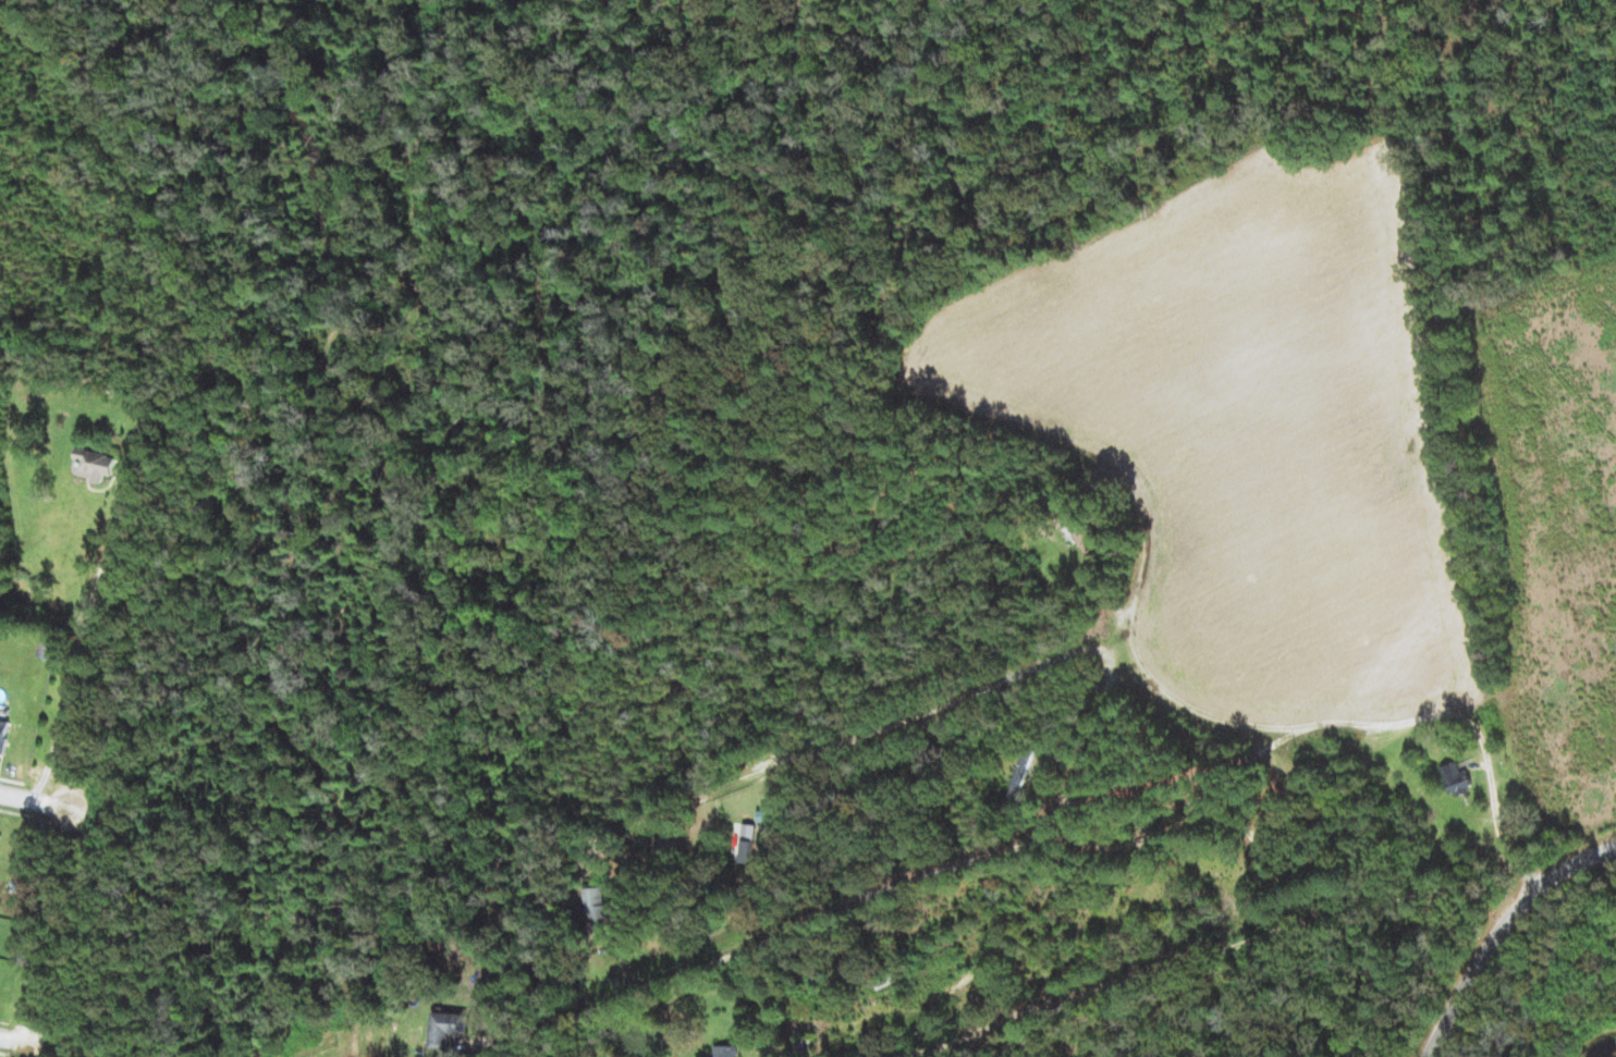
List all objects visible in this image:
building: (94, 464)
building: (1084, 532)
road: (81, 644)
road: (1277, 726)
building: (3, 734)
road: (858, 736)
building: (1458, 775)
road: (1191, 784)
road: (33, 800)
road: (1495, 813)
road: (1187, 821)
road: (1501, 931)
road: (780, 933)
road: (1102, 986)
building: (448, 1028)
road: (16, 1036)
building: (727, 1050)

